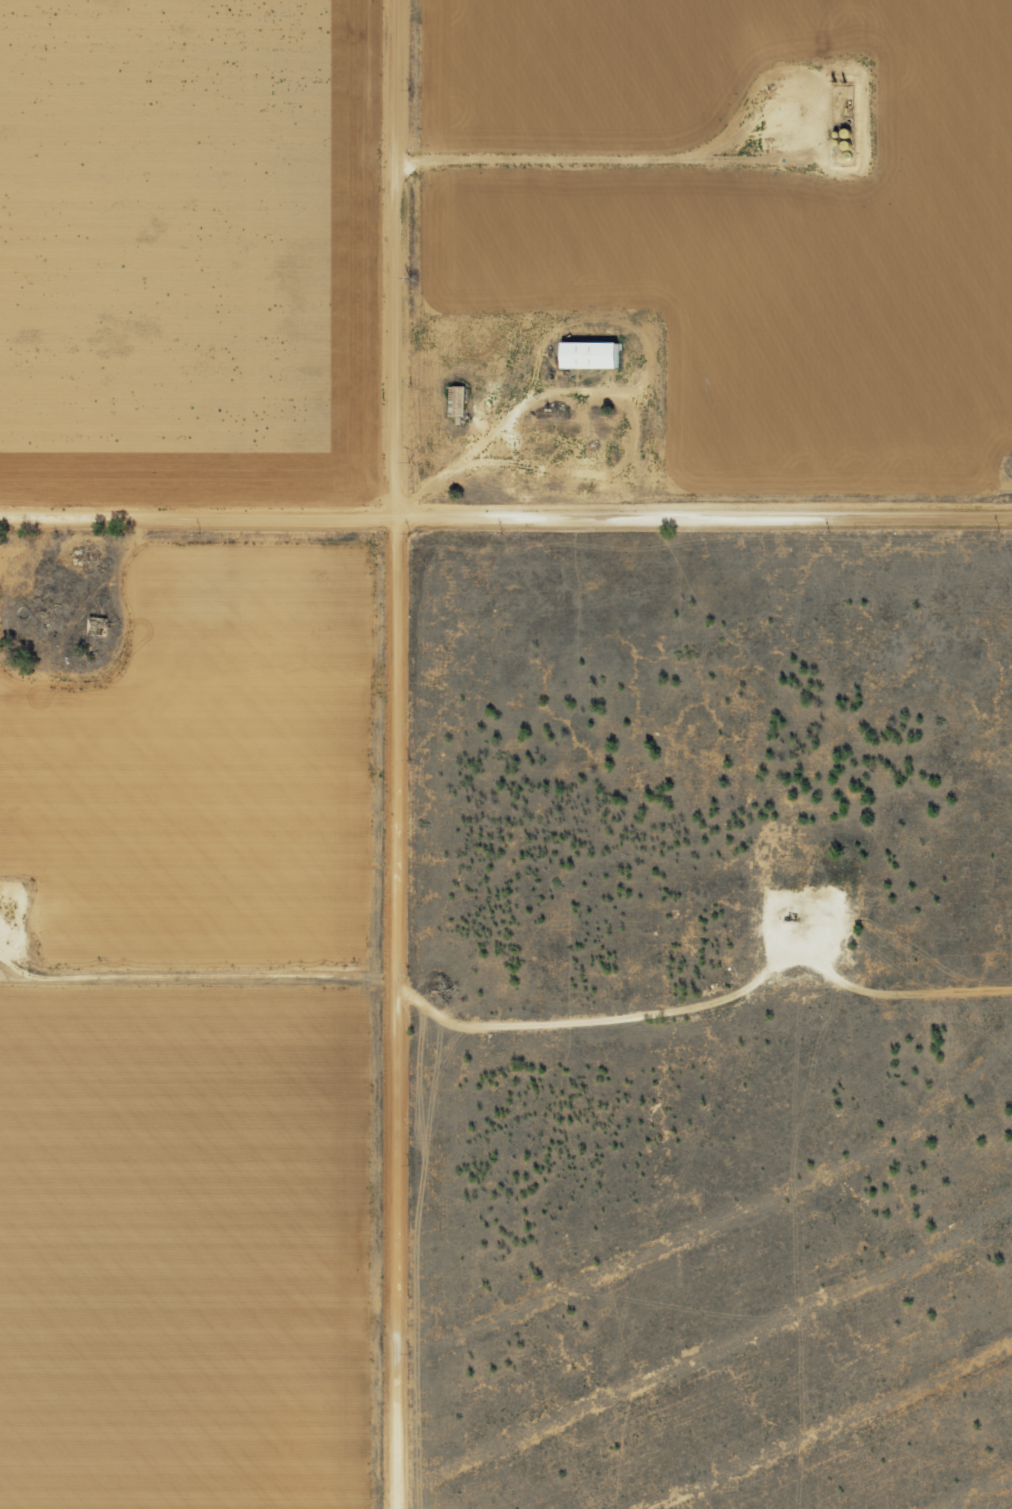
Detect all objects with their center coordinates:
petroleum well: (789, 112)
building: (592, 354)
road: (506, 514)
road: (391, 754)
petroleum well: (787, 920)

